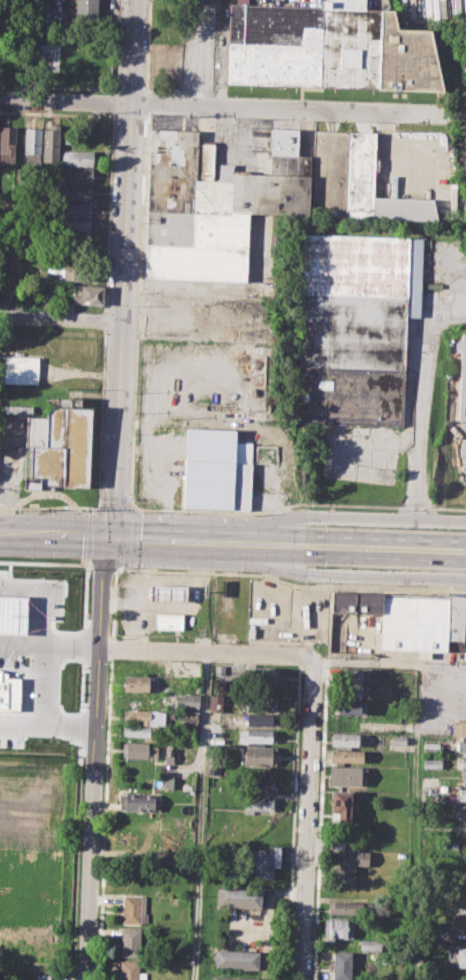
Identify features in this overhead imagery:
building: (86, 12)
building: (328, 47)
road: (228, 108)
building: (8, 143)
building: (32, 143)
building: (51, 144)
building: (77, 158)
building: (77, 175)
building: (76, 192)
building: (253, 198)
building: (75, 209)
building: (75, 225)
road: (125, 267)
building: (79, 271)
building: (88, 295)
road: (62, 318)
building: (355, 327)
building: (20, 370)
building: (463, 377)
road: (419, 422)
building: (57, 444)
parking lot: (460, 447)
building: (216, 470)
road: (297, 503)
road: (114, 505)
road: (49, 507)
road: (135, 509)
road: (337, 516)
road: (257, 531)
road: (55, 532)
road: (178, 532)
traffic signals: (111, 535)
road: (128, 535)
road: (385, 535)
road: (131, 537)
road: (178, 542)
road: (257, 551)
road: (384, 555)
road: (45, 562)
road: (100, 566)
road: (120, 568)
road: (336, 575)
road: (295, 585)
road: (141, 587)
building: (169, 592)
parking lot: (285, 611)
building: (410, 619)
building: (169, 620)
road: (50, 648)
road: (206, 653)
road: (389, 664)
building: (219, 669)
building: (262, 674)
building: (346, 682)
building: (138, 683)
parking lot: (442, 691)
building: (136, 700)
building: (187, 701)
building: (214, 701)
building: (259, 703)
building: (349, 706)
road: (47, 710)
building: (141, 716)
building: (190, 716)
building: (259, 719)
road: (23, 722)
building: (459, 727)
building: (142, 732)
building: (257, 735)
building: (344, 739)
building: (398, 739)
building: (462, 745)
building: (431, 746)
building: (139, 749)
building: (169, 754)
building: (257, 755)
building: (346, 755)
road: (94, 757)
building: (463, 760)
building: (431, 763)
building: (345, 775)
building: (465, 777)
building: (170, 781)
building: (258, 786)
building: (461, 793)
building: (137, 802)
building: (259, 803)
building: (340, 804)
building: (460, 811)
road: (200, 816)
road: (308, 818)
building: (463, 825)
building: (266, 861)
building: (350, 865)
building: (464, 878)
building: (238, 897)
building: (462, 900)
building: (131, 908)
building: (345, 908)
building: (142, 909)
building: (463, 925)
building: (338, 928)
building: (445, 933)
building: (130, 941)
building: (461, 956)
building: (237, 959)
building: (343, 965)
building: (130, 971)
building: (42, 976)
building: (232, 978)
building: (421, 978)

